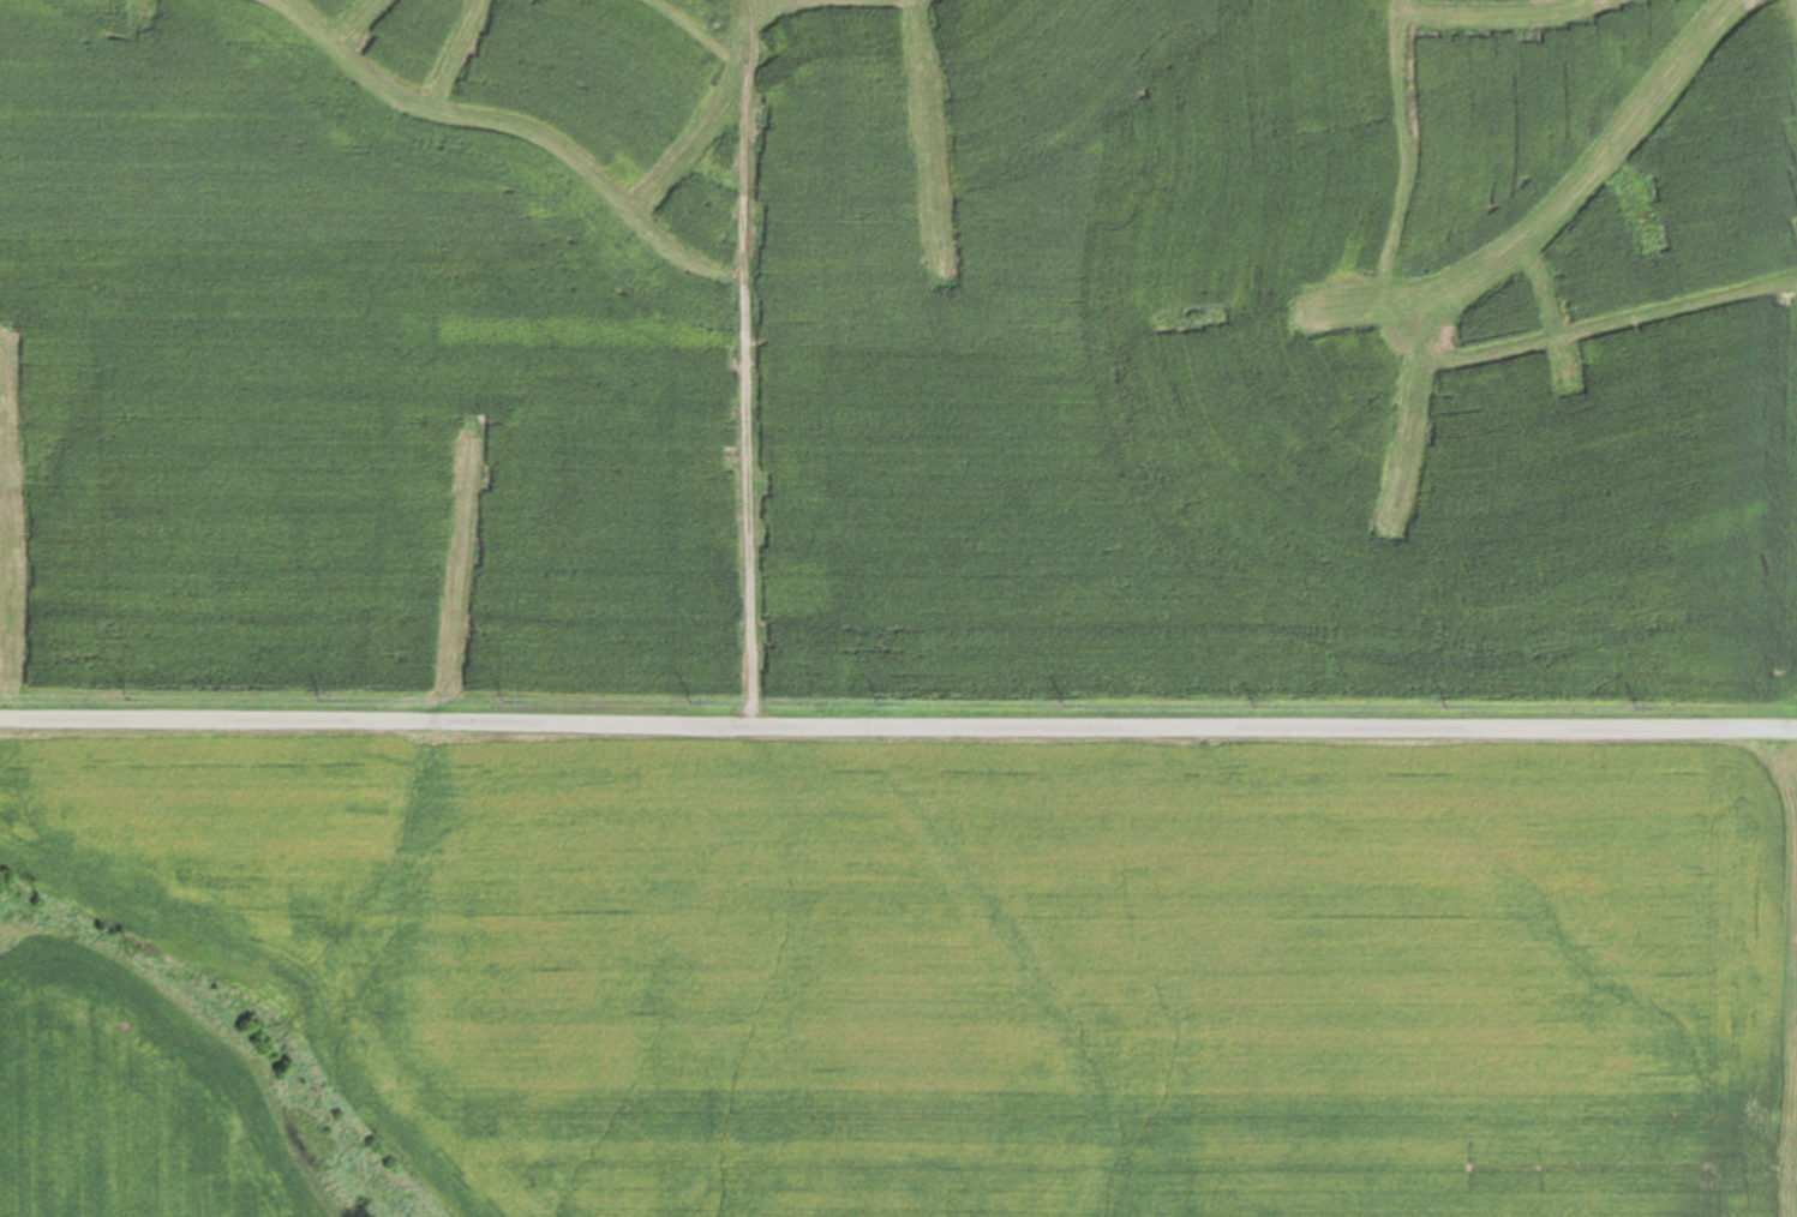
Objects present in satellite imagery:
road: (762, 362)
road: (898, 725)

